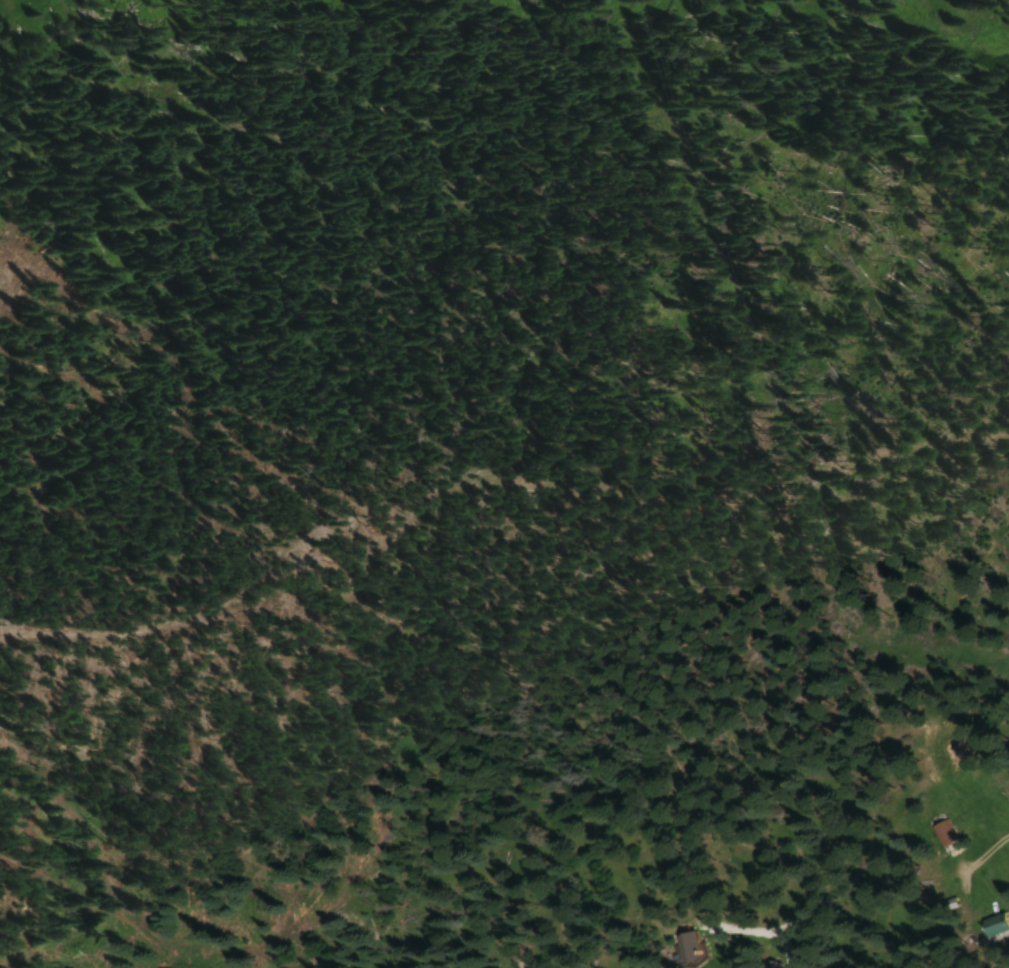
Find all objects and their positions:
building: (954, 751)
building: (939, 832)
building: (988, 926)
building: (698, 948)
building: (766, 965)

